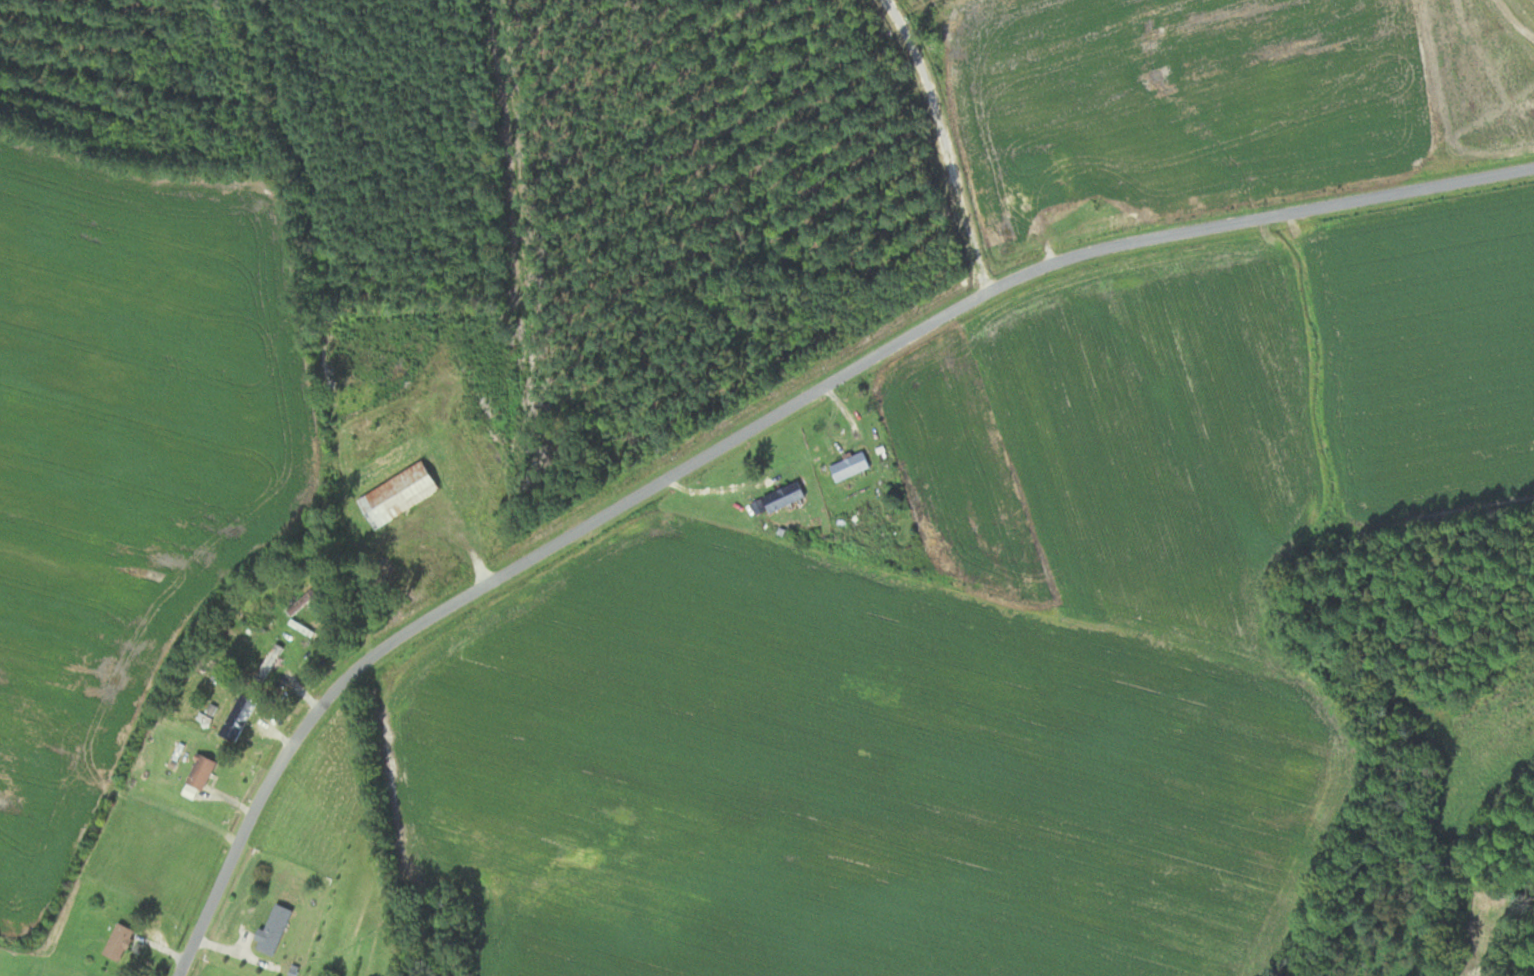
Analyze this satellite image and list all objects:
road: (948, 141)
road: (758, 424)
building: (849, 465)
building: (403, 492)
building: (783, 495)
building: (301, 601)
building: (270, 661)
building: (237, 717)
building: (200, 771)
building: (272, 929)
building: (118, 941)

